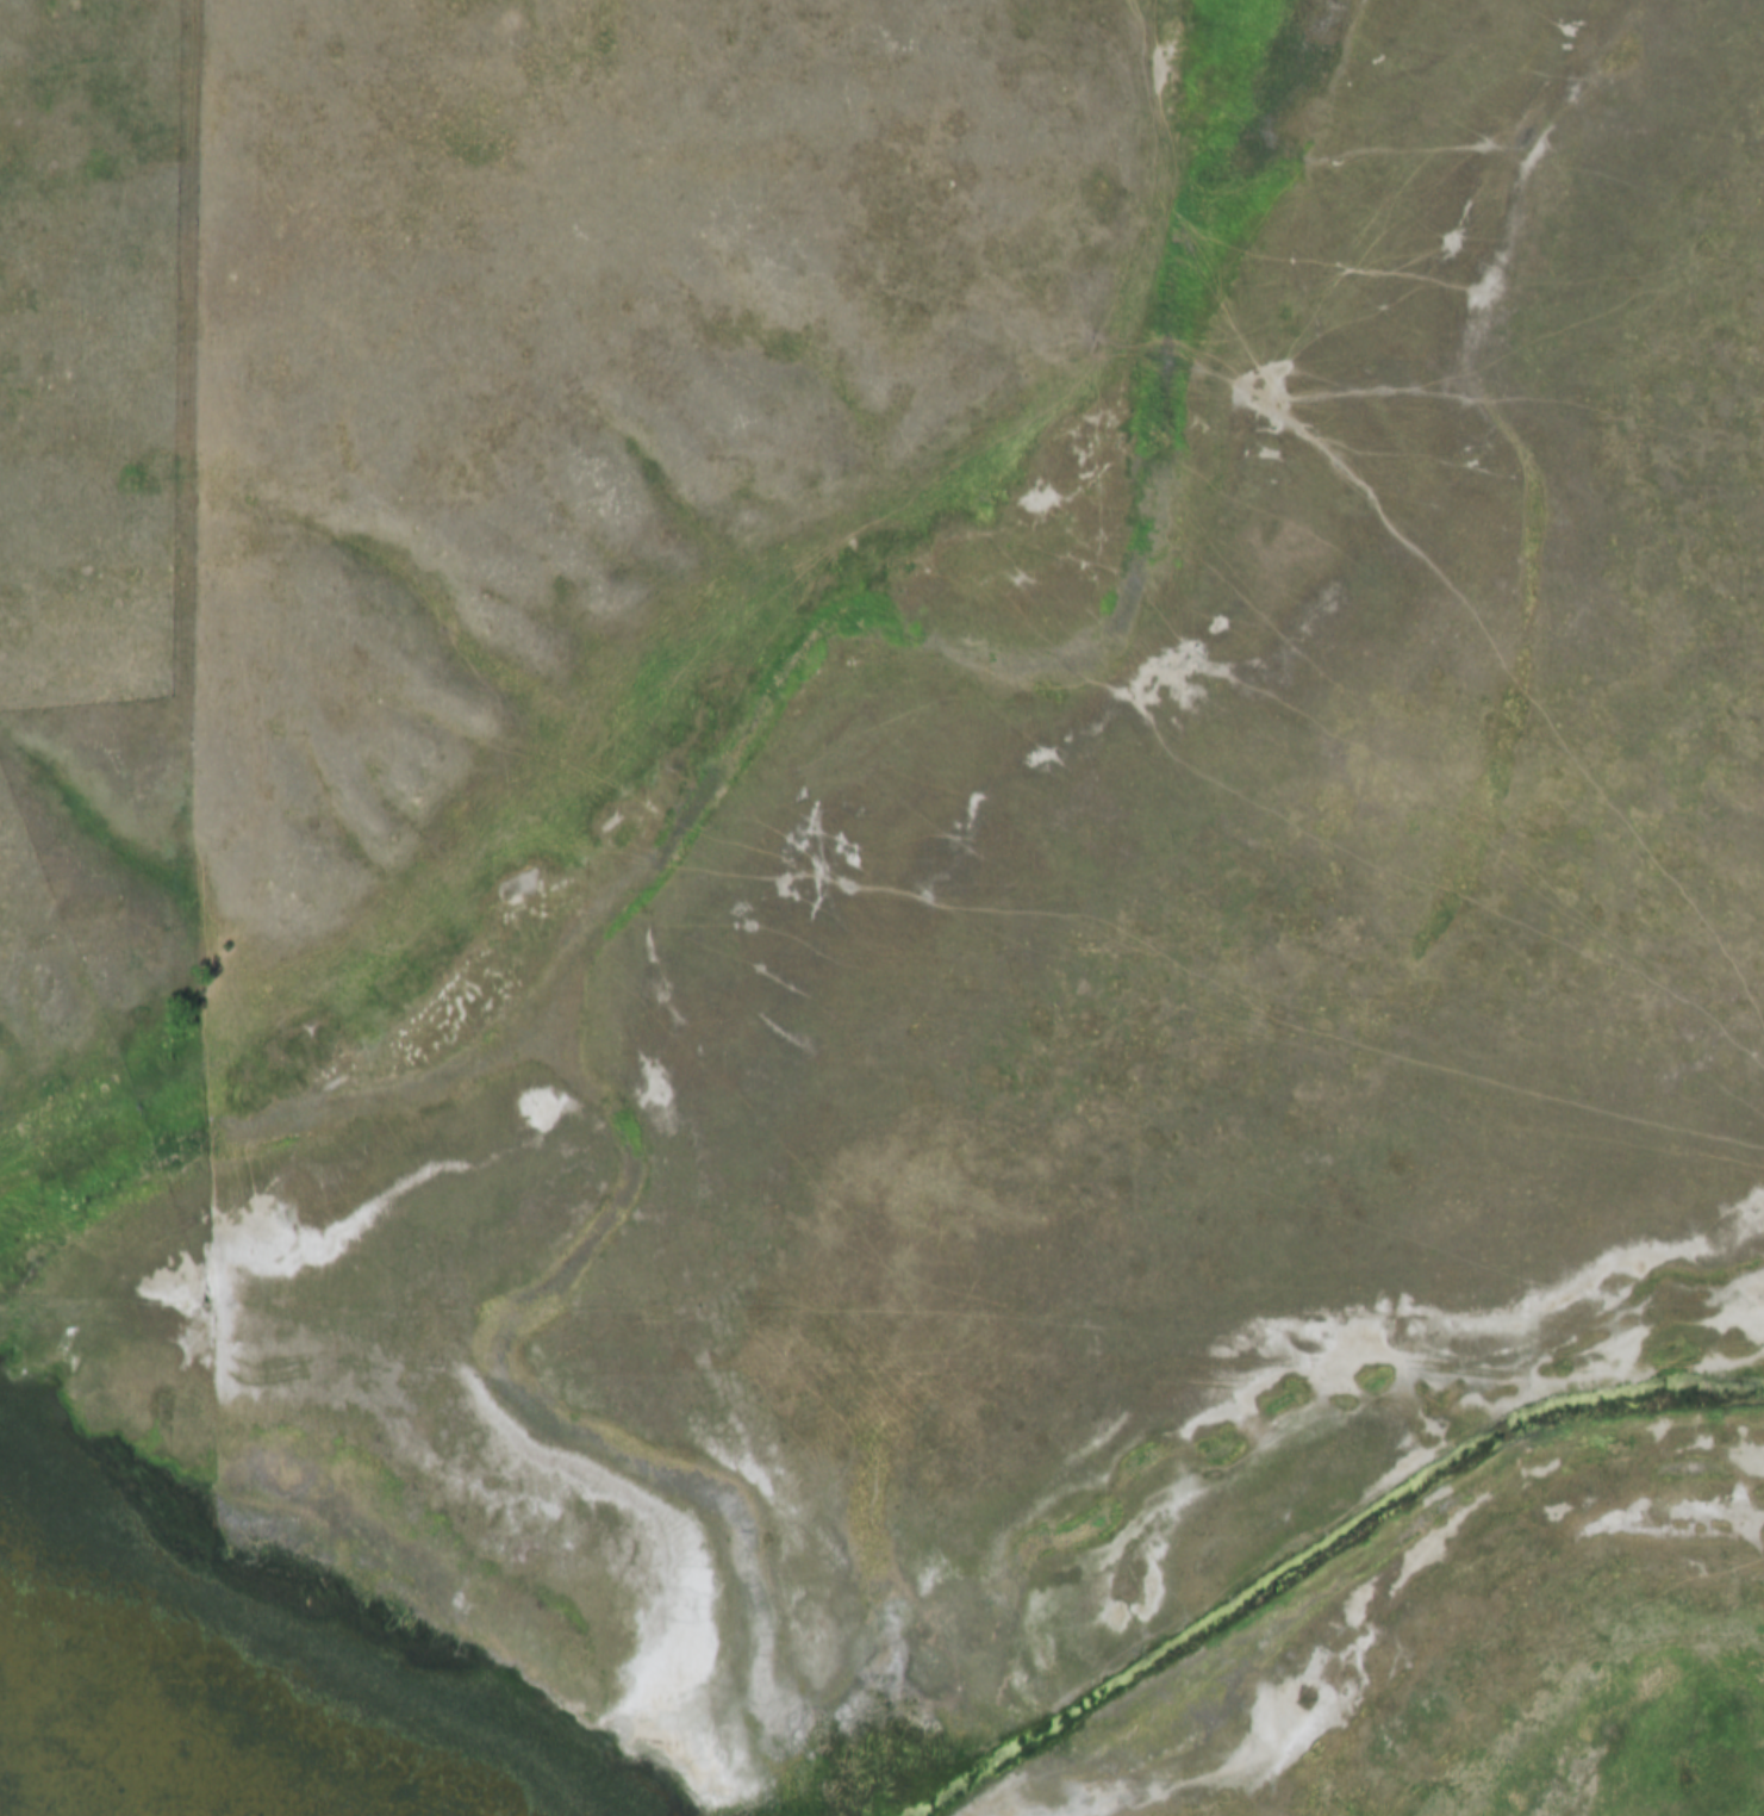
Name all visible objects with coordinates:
road: (188, 430)

